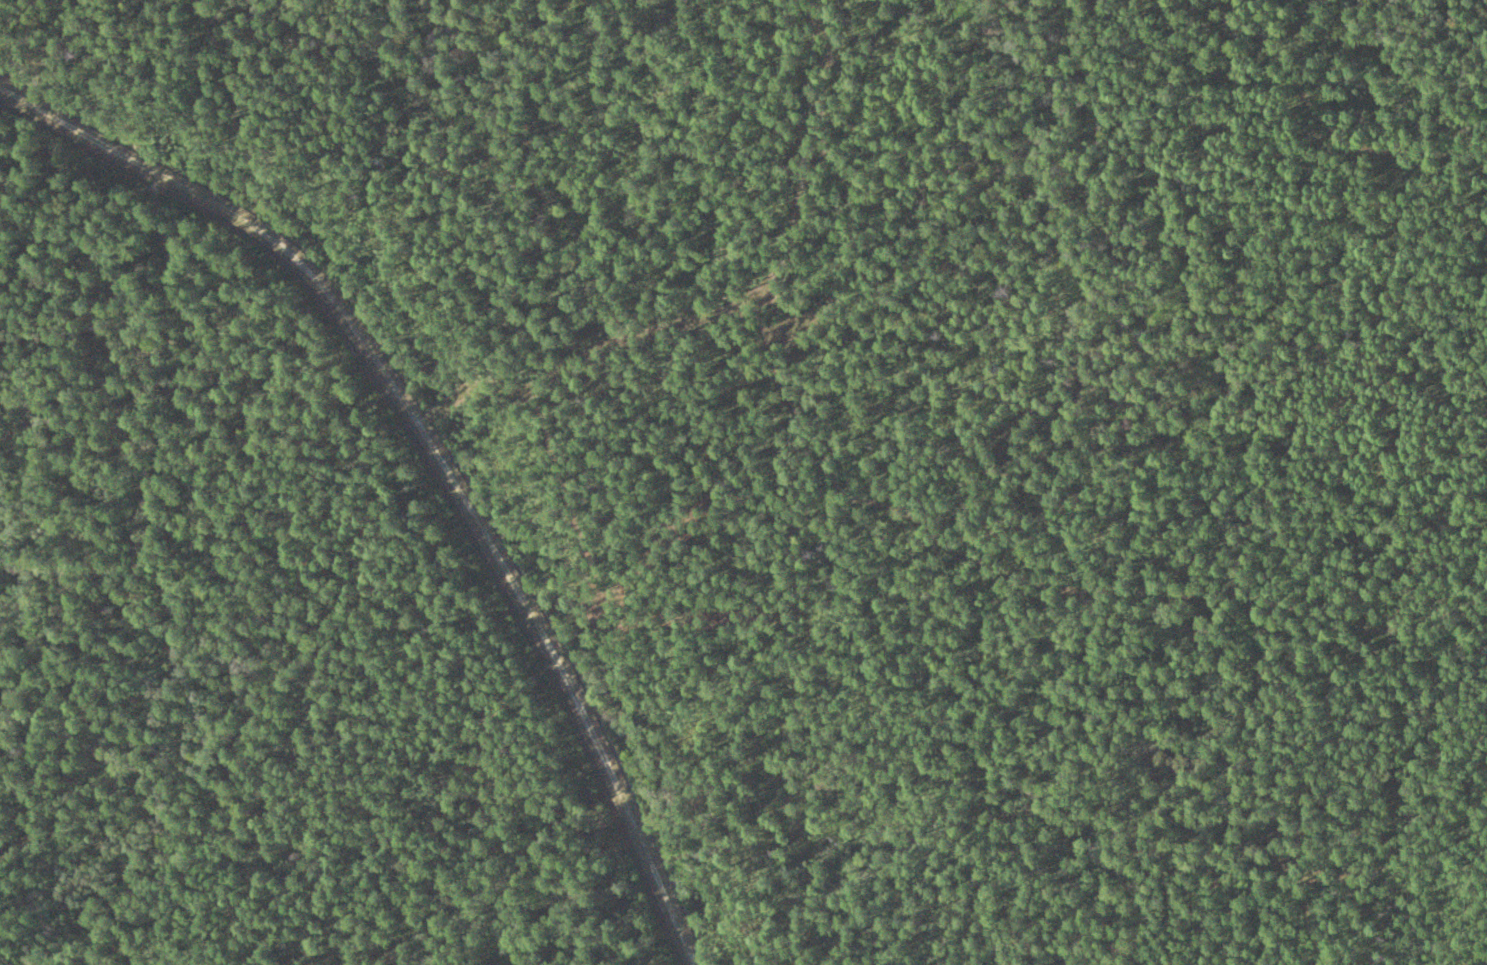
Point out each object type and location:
road: (448, 429)

